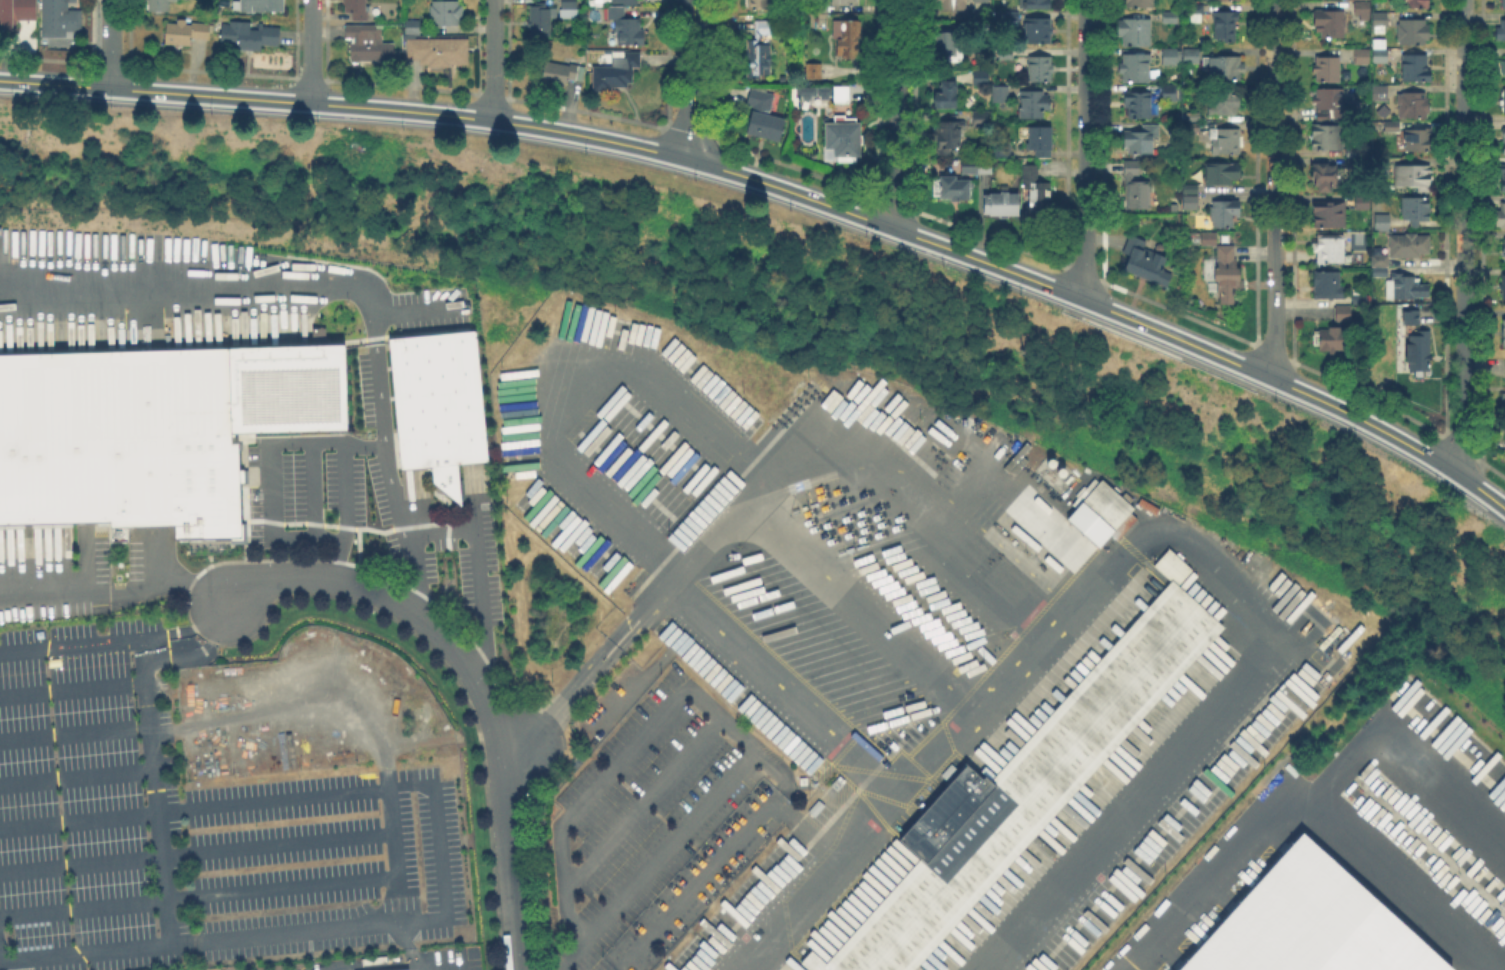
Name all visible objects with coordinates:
building: (982, 0)
building: (625, 1)
building: (845, 1)
building: (760, 3)
building: (952, 3)
building: (1039, 3)
building: (1141, 3)
building: (1504, 3)
building: (1416, 4)
building: (159, 5)
building: (260, 5)
building: (821, 6)
building: (357, 8)
building: (569, 8)
building: (1362, 9)
building: (16, 12)
building: (447, 12)
building: (617, 12)
building: (1196, 13)
building: (1171, 16)
building: (61, 18)
building: (540, 19)
building: (1011, 19)
building: (1381, 19)
building: (1330, 22)
building: (1226, 25)
building: (413, 26)
building: (1039, 29)
building: (630, 30)
building: (1501, 30)
building: (1135, 31)
building: (1413, 31)
building: (186, 32)
building: (251, 35)
building: (848, 37)
building: (947, 42)
road: (110, 43)
building: (370, 44)
road: (310, 50)
building: (760, 50)
building: (439, 51)
building: (1380, 51)
building: (1171, 55)
building: (1189, 55)
building: (1362, 55)
road: (493, 60)
building: (1136, 67)
building: (1225, 67)
building: (1416, 67)
building: (1503, 67)
building: (1328, 69)
building: (814, 70)
building: (1041, 70)
building: (616, 71)
building: (563, 72)
building: (981, 77)
road: (691, 79)
building: (1172, 92)
building: (1380, 92)
building: (1001, 93)
building: (809, 94)
building: (842, 94)
building: (946, 95)
building: (1503, 100)
building: (1226, 101)
building: (1332, 102)
building: (1035, 103)
road: (347, 104)
building: (1138, 104)
building: (1413, 106)
building: (764, 114)
road: (896, 114)
building: (1193, 116)
building: (983, 117)
building: (1393, 126)
building: (1193, 127)
building: (950, 133)
building: (845, 136)
building: (1038, 137)
building: (1326, 138)
building: (1419, 138)
building: (1141, 139)
building: (1225, 140)
building: (1503, 140)
road: (1085, 149)
building: (1043, 156)
building: (978, 169)
building: (1131, 169)
building: (1503, 169)
building: (1222, 175)
building: (1324, 175)
building: (1413, 177)
building: (1503, 186)
building: (950, 189)
building: (1191, 189)
road: (1274, 189)
building: (1036, 195)
building: (1137, 196)
building: (1359, 201)
building: (1190, 204)
building: (1001, 205)
building: (1416, 210)
building: (1224, 213)
building: (1330, 214)
building: (1500, 218)
building: (1382, 223)
road: (887, 225)
road: (1464, 235)
building: (1209, 241)
building: (1408, 245)
building: (1330, 250)
building: (1504, 250)
building: (1147, 264)
building: (1380, 266)
road: (310, 269)
building: (1224, 272)
building: (1329, 286)
building: (1504, 287)
building: (1406, 288)
building: (1360, 301)
building: (1343, 315)
building: (1504, 333)
park: (802, 337)
road: (1176, 337)
building: (1331, 340)
building: (1416, 343)
road: (601, 367)
building: (1504, 377)
building: (439, 400)
road: (262, 421)
road: (1392, 435)
building: (120, 442)
road: (1471, 455)
road: (1494, 470)
road: (389, 476)
road: (1481, 476)
building: (1108, 506)
road: (932, 512)
road: (1154, 537)
road: (824, 575)
road: (488, 576)
road: (117, 593)
road: (387, 595)
road: (188, 631)
road: (71, 644)
road: (200, 653)
road: (588, 679)
road: (74, 689)
road: (778, 694)
road: (702, 701)
road: (76, 729)
road: (1404, 741)
road: (78, 774)
building: (1027, 786)
road: (1296, 790)
road: (641, 806)
road: (80, 817)
road: (806, 827)
road: (438, 829)
road: (668, 843)
road: (507, 848)
road: (198, 850)
road: (167, 878)
road: (245, 892)
building: (1305, 925)
road: (411, 947)
building: (407, 969)

